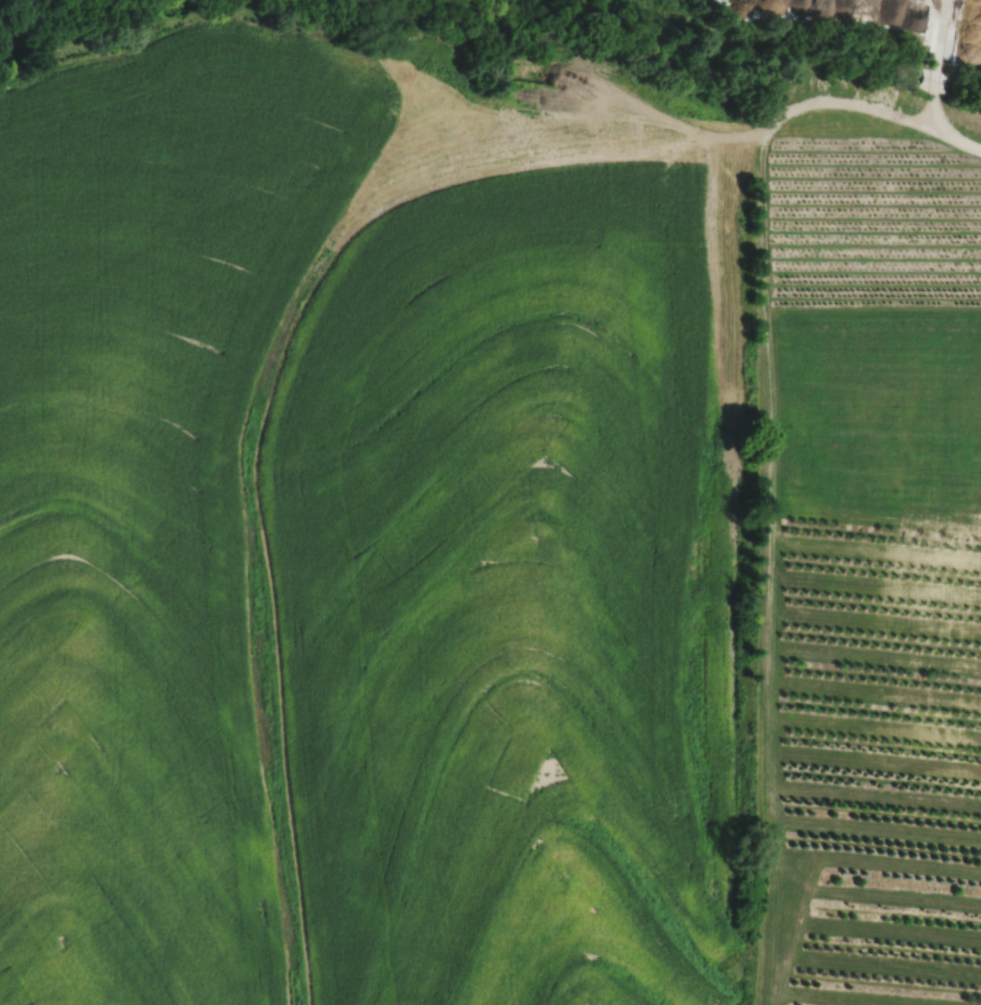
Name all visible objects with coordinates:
crop: (374, 502)

